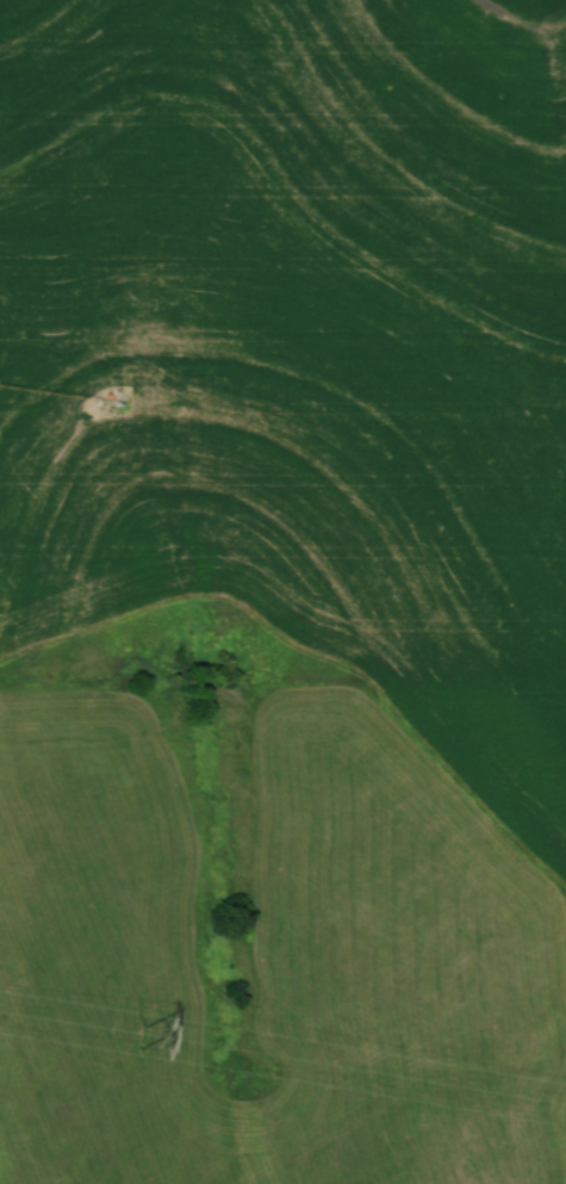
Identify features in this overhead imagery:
power tower: (142, 1034)

